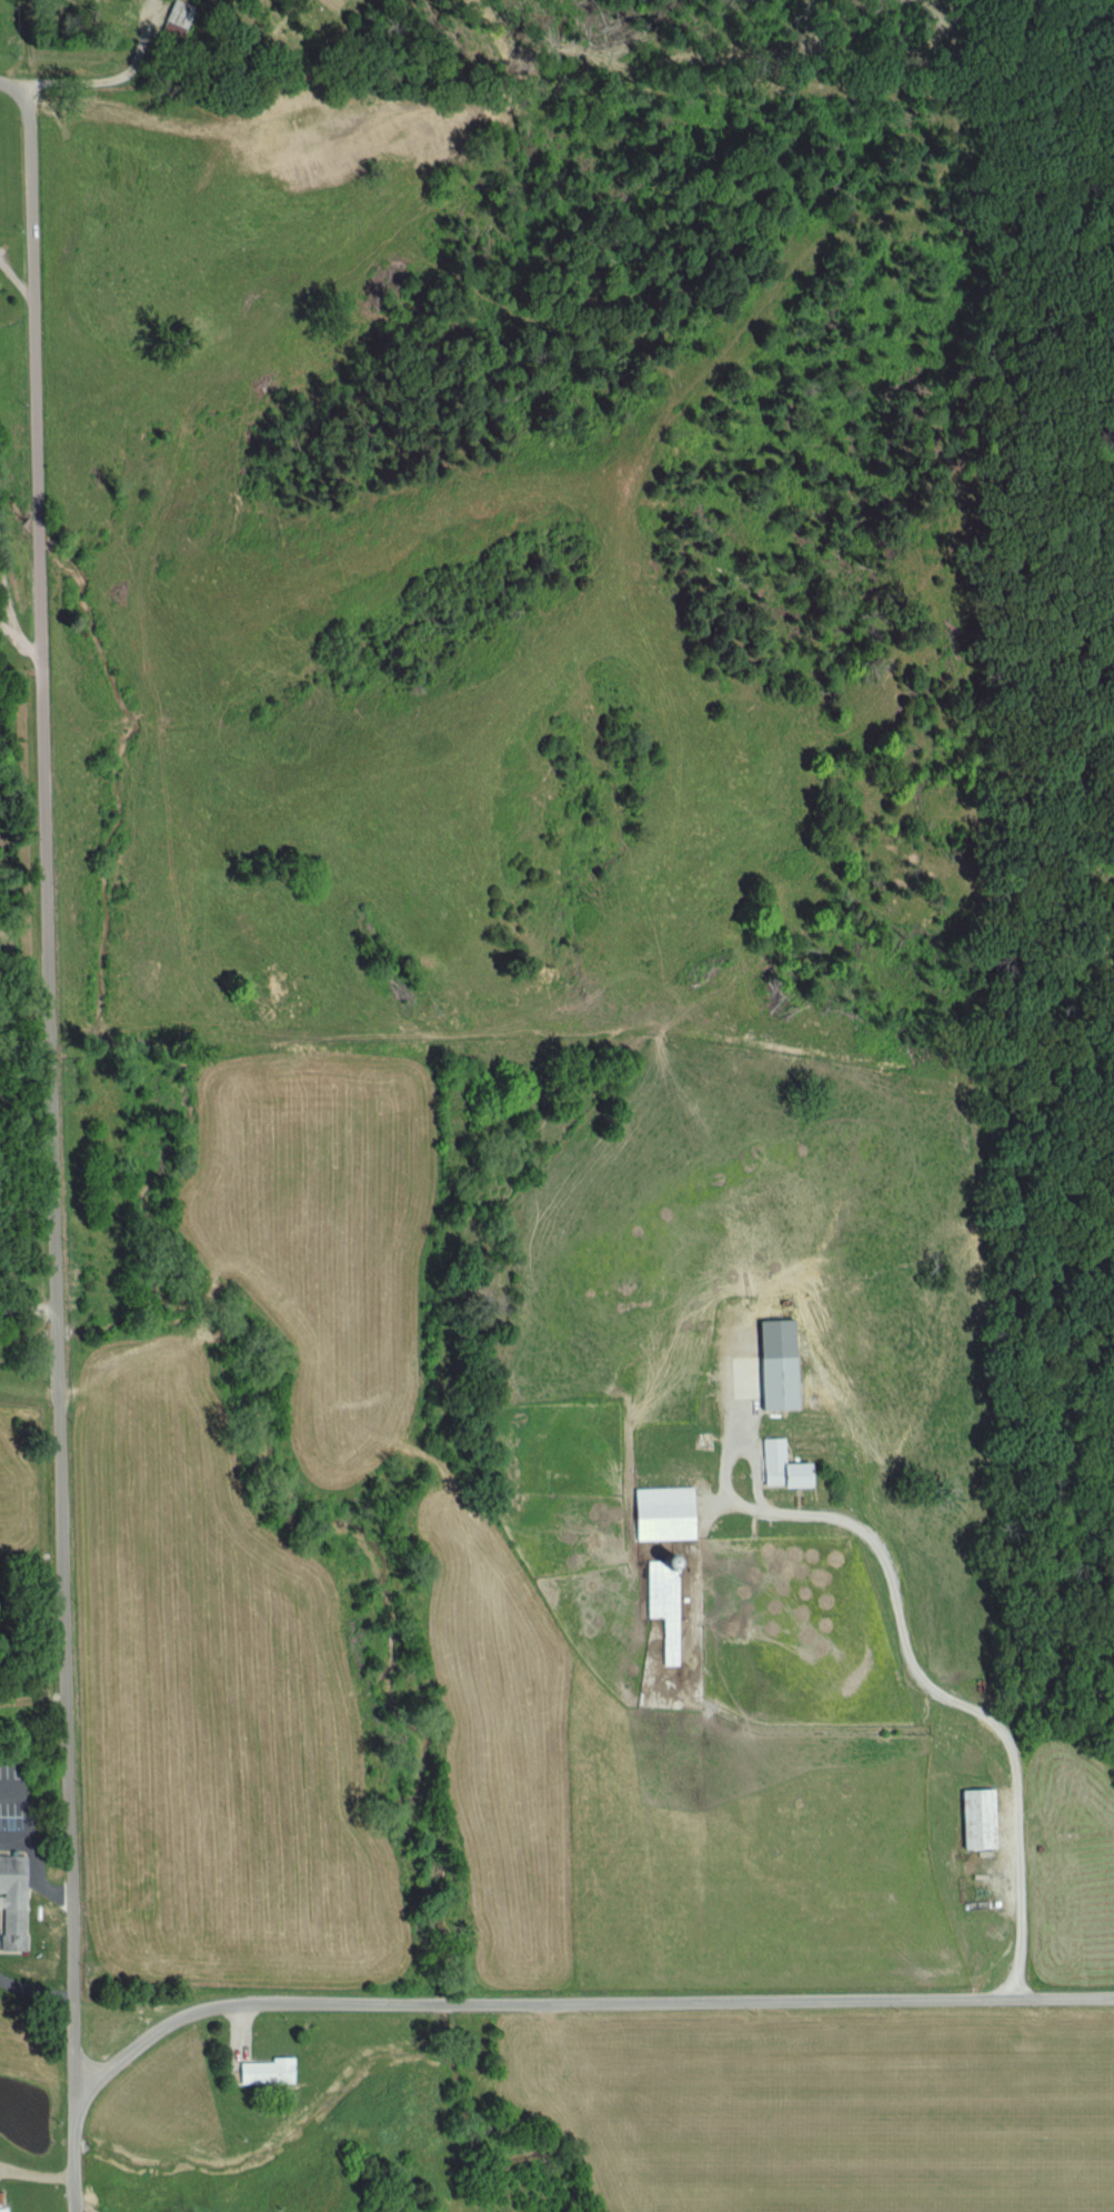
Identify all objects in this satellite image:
building: (180, 14)
road: (7, 620)
road: (23, 651)
road: (49, 1143)
building: (775, 1384)
building: (779, 1469)
road: (719, 1488)
building: (661, 1514)
road: (967, 1698)
building: (975, 1819)
building: (10, 1902)
road: (581, 2005)
building: (263, 2072)
road: (36, 2179)
building: (1, 2203)
road: (80, 2206)

